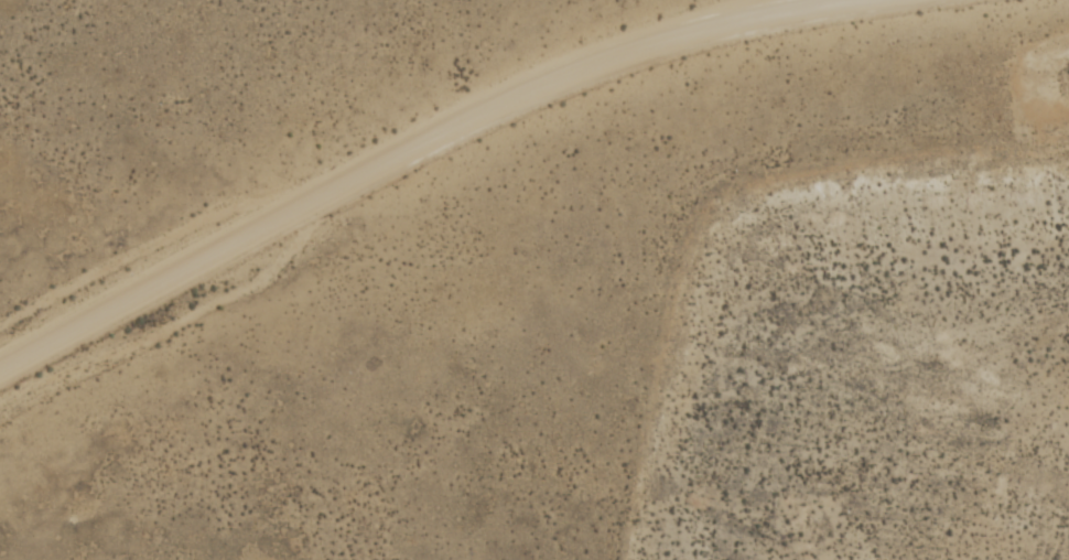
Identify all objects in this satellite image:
road: (393, 154)

